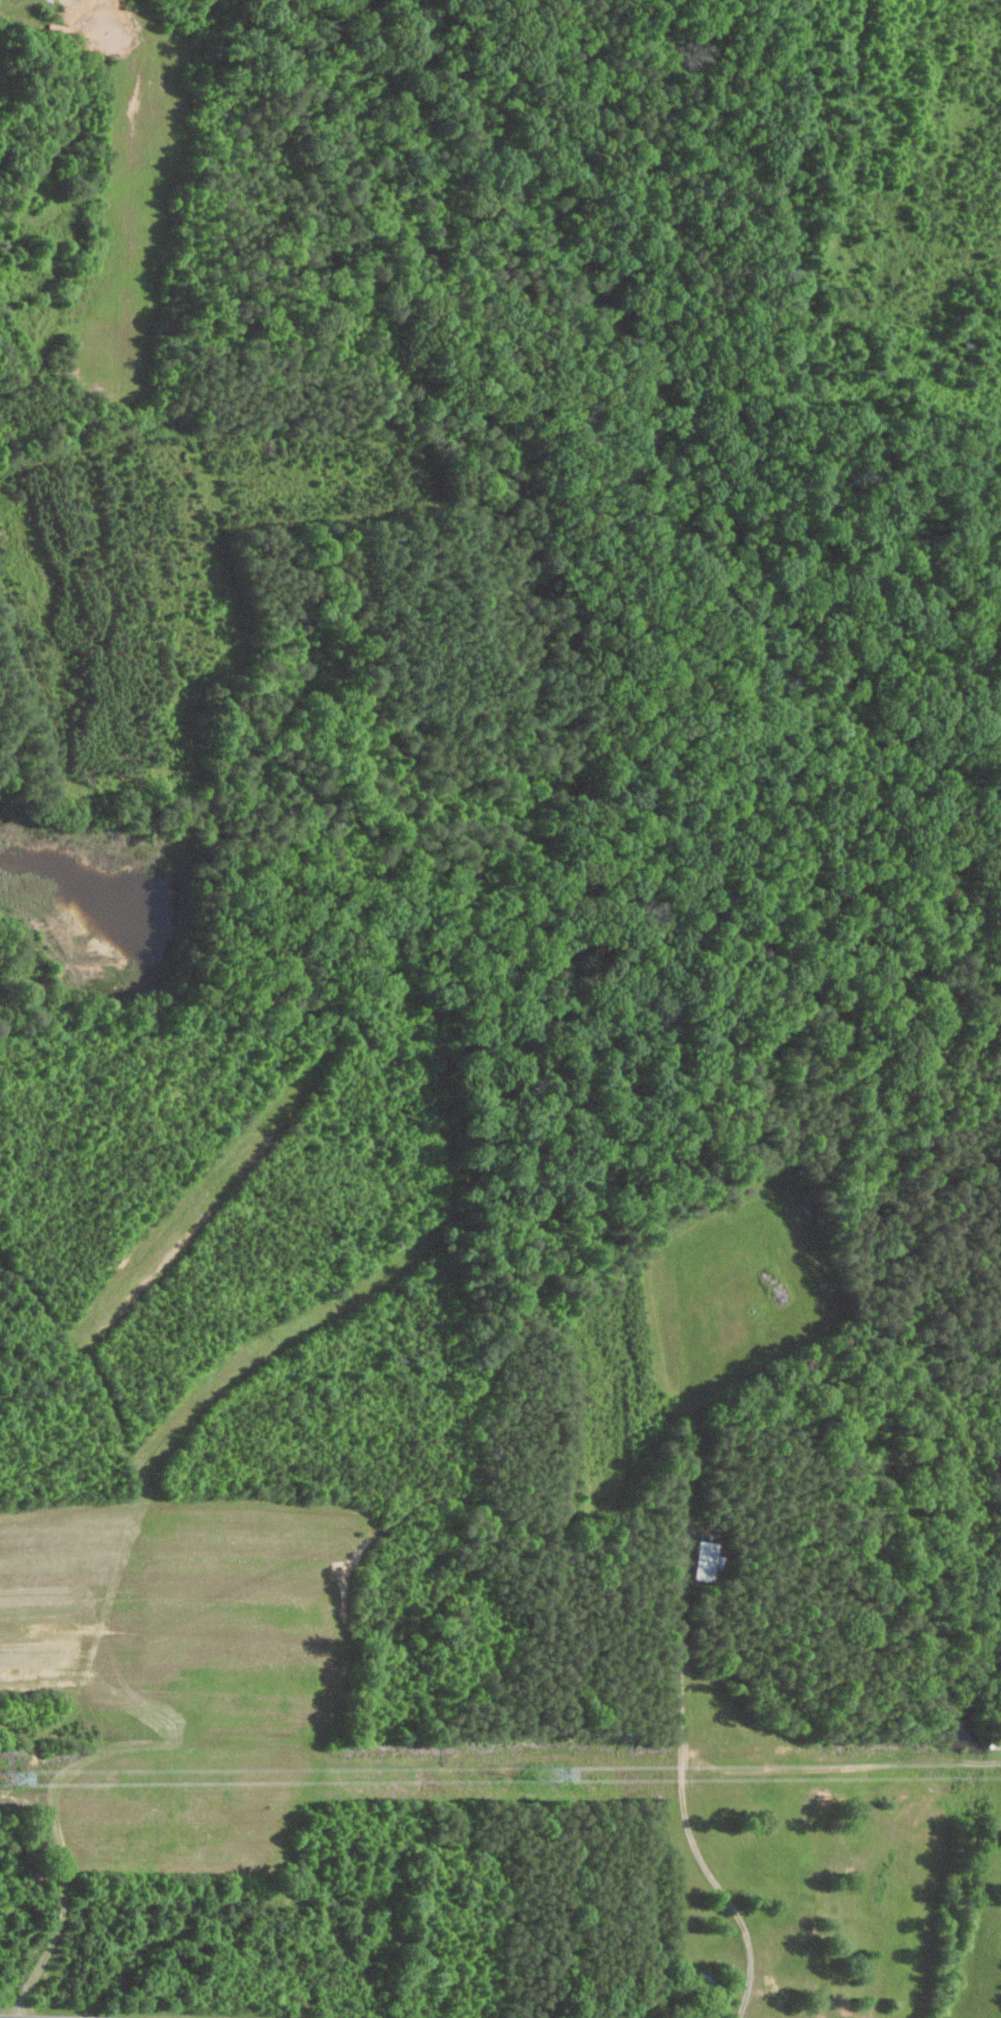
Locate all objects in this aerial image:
building: (704, 1559)
power tower: (584, 1775)
power tower: (116, 1779)

